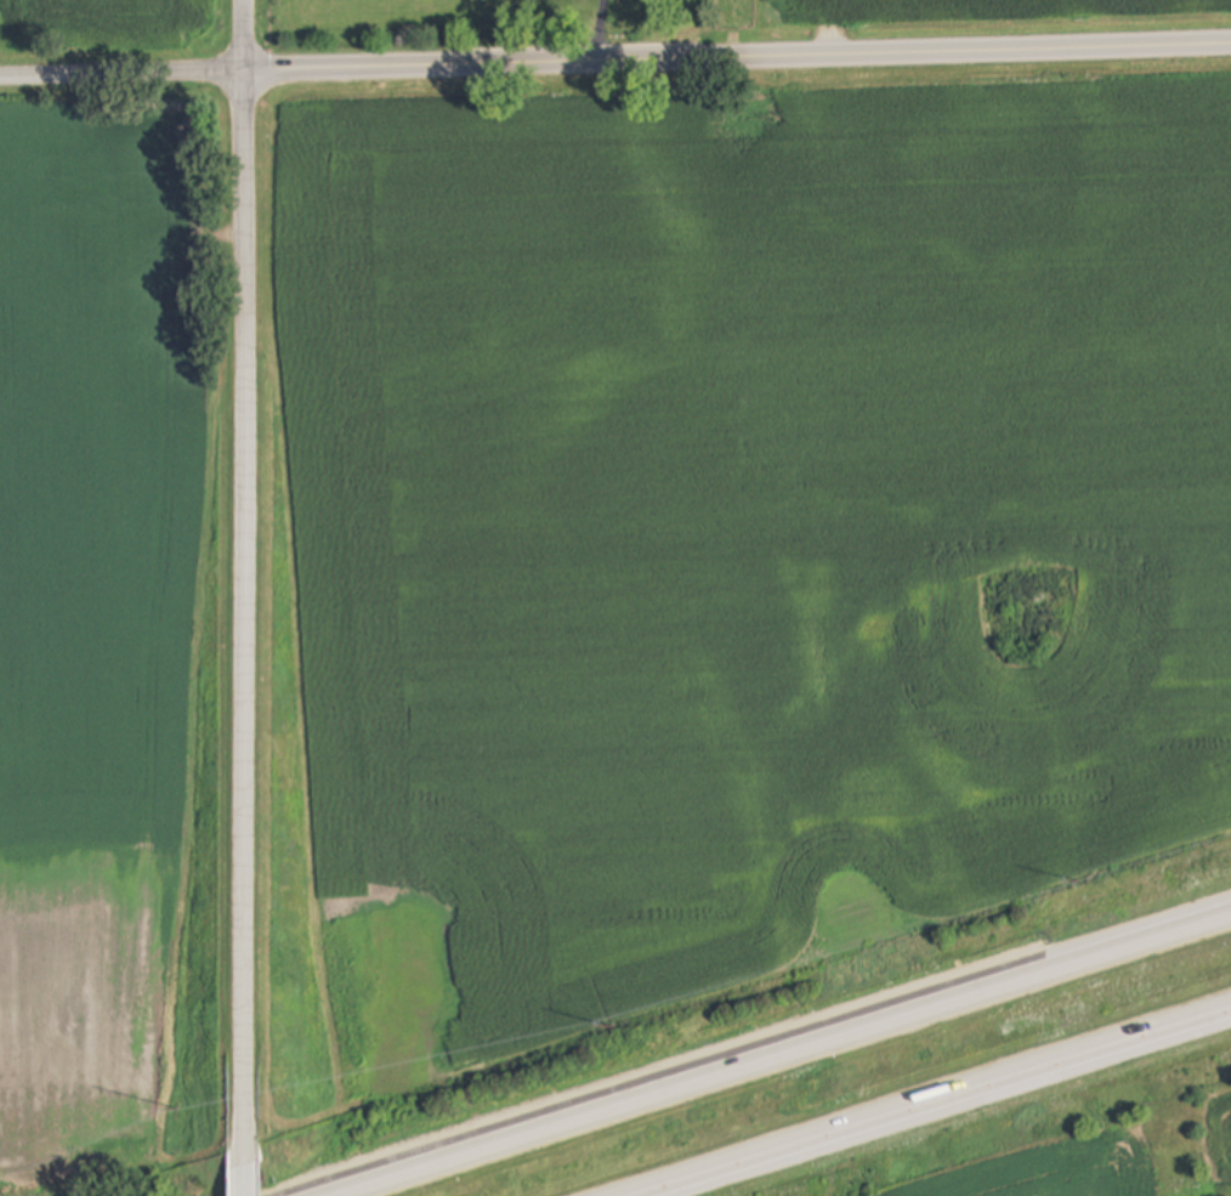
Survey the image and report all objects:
road: (615, 59)
road: (246, 559)
road: (789, 1058)
road: (948, 1107)
road: (250, 1157)

